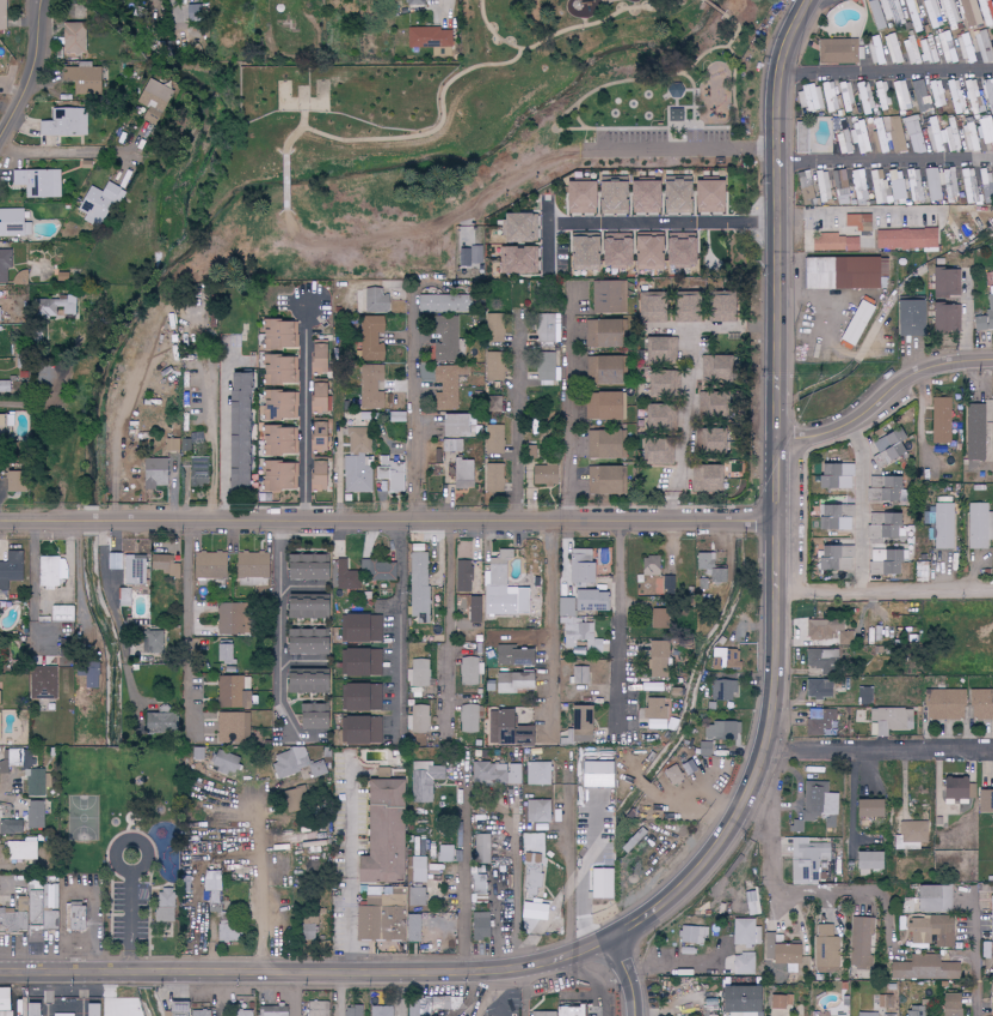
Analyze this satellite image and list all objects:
building: (413, 2)
road: (447, 7)
building: (895, 12)
building: (949, 12)
building: (986, 12)
building: (932, 13)
building: (969, 13)
building: (3, 14)
building: (875, 14)
building: (912, 16)
road: (737, 24)
building: (72, 38)
building: (430, 40)
road: (553, 41)
building: (983, 46)
building: (911, 47)
building: (946, 47)
building: (892, 49)
building: (966, 49)
building: (928, 50)
building: (839, 51)
road: (687, 75)
road: (885, 75)
road: (35, 76)
road: (733, 78)
building: (83, 79)
road: (692, 89)
building: (676, 90)
building: (883, 94)
building: (937, 94)
building: (846, 95)
building: (155, 96)
building: (901, 96)
building: (955, 96)
building: (811, 97)
building: (866, 97)
building: (973, 97)
building: (831, 98)
road: (677, 103)
road: (731, 105)
road: (672, 107)
road: (697, 107)
building: (676, 114)
building: (65, 123)
road: (556, 126)
building: (986, 130)
building: (950, 131)
building: (894, 133)
building: (913, 135)
building: (935, 135)
building: (860, 136)
building: (844, 137)
park: (430, 138)
road: (669, 138)
road: (695, 138)
building: (802, 138)
parking lot: (661, 143)
road: (78, 148)
road: (686, 150)
road: (885, 159)
building: (38, 183)
building: (932, 184)
building: (859, 185)
building: (914, 185)
building: (949, 185)
building: (822, 186)
building: (887, 186)
building: (969, 186)
building: (840, 187)
building: (807, 188)
building: (672, 195)
building: (640, 197)
building: (705, 197)
building: (576, 198)
building: (608, 198)
building: (97, 204)
road: (287, 206)
road: (856, 211)
road: (641, 222)
building: (13, 223)
building: (859, 224)
building: (518, 228)
building: (905, 239)
building: (832, 243)
building: (676, 250)
building: (612, 252)
building: (580, 253)
building: (644, 253)
building: (476, 255)
building: (518, 261)
building: (4, 264)
building: (857, 273)
building: (60, 277)
building: (944, 283)
building: (608, 297)
building: (374, 301)
road: (822, 301)
building: (990, 301)
building: (446, 303)
building: (53, 308)
building: (649, 308)
building: (718, 308)
building: (683, 309)
road: (966, 318)
building: (910, 319)
building: (941, 319)
building: (855, 324)
building: (494, 328)
building: (548, 328)
building: (600, 334)
building: (275, 335)
building: (446, 338)
building: (371, 339)
building: (660, 350)
building: (317, 357)
building: (494, 367)
building: (547, 368)
building: (714, 368)
building: (275, 371)
building: (601, 371)
building: (478, 375)
road: (688, 383)
building: (448, 385)
building: (657, 385)
building: (4, 387)
building: (371, 387)
road: (883, 392)
building: (316, 398)
road: (38, 400)
road: (566, 401)
building: (494, 404)
building: (708, 404)
road: (415, 405)
building: (278, 406)
building: (601, 407)
road: (310, 412)
building: (396, 417)
road: (519, 417)
building: (655, 417)
building: (941, 420)
building: (0, 422)
building: (453, 426)
building: (975, 431)
road: (224, 433)
building: (316, 438)
building: (494, 440)
building: (709, 440)
building: (193, 441)
building: (279, 441)
building: (171, 445)
building: (602, 445)
building: (452, 446)
building: (888, 446)
building: (656, 454)
building: (353, 459)
building: (199, 472)
building: (154, 473)
building: (462, 474)
building: (316, 475)
building: (543, 475)
building: (826, 475)
building: (847, 476)
building: (274, 477)
building: (494, 478)
building: (699, 479)
building: (603, 481)
building: (889, 488)
road: (779, 493)
road: (865, 505)
building: (834, 516)
road: (389, 520)
building: (883, 525)
building: (943, 526)
building: (979, 526)
building: (834, 557)
building: (531, 560)
building: (161, 563)
building: (887, 563)
building: (209, 565)
building: (579, 565)
building: (650, 565)
building: (128, 567)
building: (252, 567)
building: (710, 567)
building: (11, 568)
building: (497, 568)
building: (305, 569)
building: (51, 571)
building: (920, 571)
building: (380, 574)
building: (465, 575)
building: (346, 576)
road: (80, 577)
road: (34, 586)
building: (418, 586)
road: (885, 588)
building: (124, 597)
building: (520, 599)
building: (582, 602)
building: (303, 606)
building: (474, 608)
building: (60, 614)
road: (115, 616)
building: (230, 618)
building: (657, 619)
road: (449, 621)
building: (361, 628)
road: (398, 628)
road: (186, 629)
road: (550, 629)
road: (627, 635)
building: (582, 636)
road: (278, 640)
building: (152, 641)
building: (222, 651)
building: (511, 655)
building: (657, 658)
building: (724, 658)
building: (823, 661)
building: (361, 662)
building: (468, 670)
building: (420, 672)
building: (89, 673)
building: (580, 674)
building: (302, 680)
building: (511, 681)
building: (43, 682)
building: (650, 686)
building: (815, 688)
building: (722, 689)
building: (232, 691)
building: (675, 691)
building: (360, 696)
building: (866, 697)
building: (944, 703)
building: (981, 704)
building: (654, 713)
building: (311, 715)
building: (470, 717)
building: (419, 718)
building: (891, 719)
building: (820, 721)
building: (159, 722)
building: (578, 723)
building: (232, 727)
building: (360, 729)
building: (506, 730)
building: (720, 730)
building: (295, 733)
building: (704, 748)
road: (879, 749)
building: (197, 753)
building: (20, 758)
building: (390, 759)
building: (289, 761)
building: (223, 762)
building: (3, 766)
building: (316, 768)
building: (489, 772)
building: (537, 773)
building: (592, 773)
building: (515, 774)
building: (423, 780)
building: (35, 782)
building: (953, 788)
building: (984, 801)
road: (852, 802)
building: (819, 803)
building: (866, 808)
building: (537, 811)
building: (35, 814)
park: (84, 817)
park: (126, 824)
building: (11, 826)
building: (795, 826)
building: (380, 832)
building: (913, 835)
road: (128, 838)
building: (536, 840)
building: (486, 848)
building: (22, 850)
building: (445, 853)
building: (531, 858)
building: (808, 860)
building: (866, 862)
road: (348, 863)
building: (419, 869)
road: (258, 875)
road: (465, 877)
road: (773, 878)
building: (532, 881)
building: (600, 883)
building: (480, 885)
road: (571, 890)
building: (211, 891)
road: (516, 895)
building: (417, 896)
building: (932, 898)
building: (752, 903)
building: (167, 906)
road: (886, 910)
building: (28, 915)
parking lot: (131, 915)
building: (67, 918)
building: (76, 918)
road: (131, 923)
building: (379, 924)
building: (987, 924)
building: (480, 925)
road: (499, 925)
building: (415, 928)
building: (308, 930)
building: (931, 930)
building: (746, 932)
building: (227, 933)
building: (691, 934)
building: (861, 941)
building: (827, 950)
building: (782, 952)
road: (975, 953)
road: (667, 964)
building: (743, 964)
building: (924, 968)
building: (992, 971)
road: (311, 972)
road: (621, 975)
road: (595, 981)
road: (48, 992)
road: (525, 992)
building: (992, 992)
road: (83, 993)
road: (225, 994)
road: (293, 994)
road: (340, 994)
road: (402, 994)
road: (499, 995)
building: (2, 998)
building: (737, 1000)
building: (781, 1001)
building: (885, 1001)
building: (440, 1002)
building: (950, 1005)
building: (416, 1007)
building: (29, 1009)
building: (90, 1009)
building: (174, 1009)
building: (315, 1009)
building: (354, 1010)
building: (274, 1011)
building: (380, 1011)
building: (561, 1012)
building: (913, 1012)
building: (4, 1013)
building: (200, 1013)
building: (243, 1013)
building: (64, 1014)
building: (865, 1014)
building: (889, 1015)

